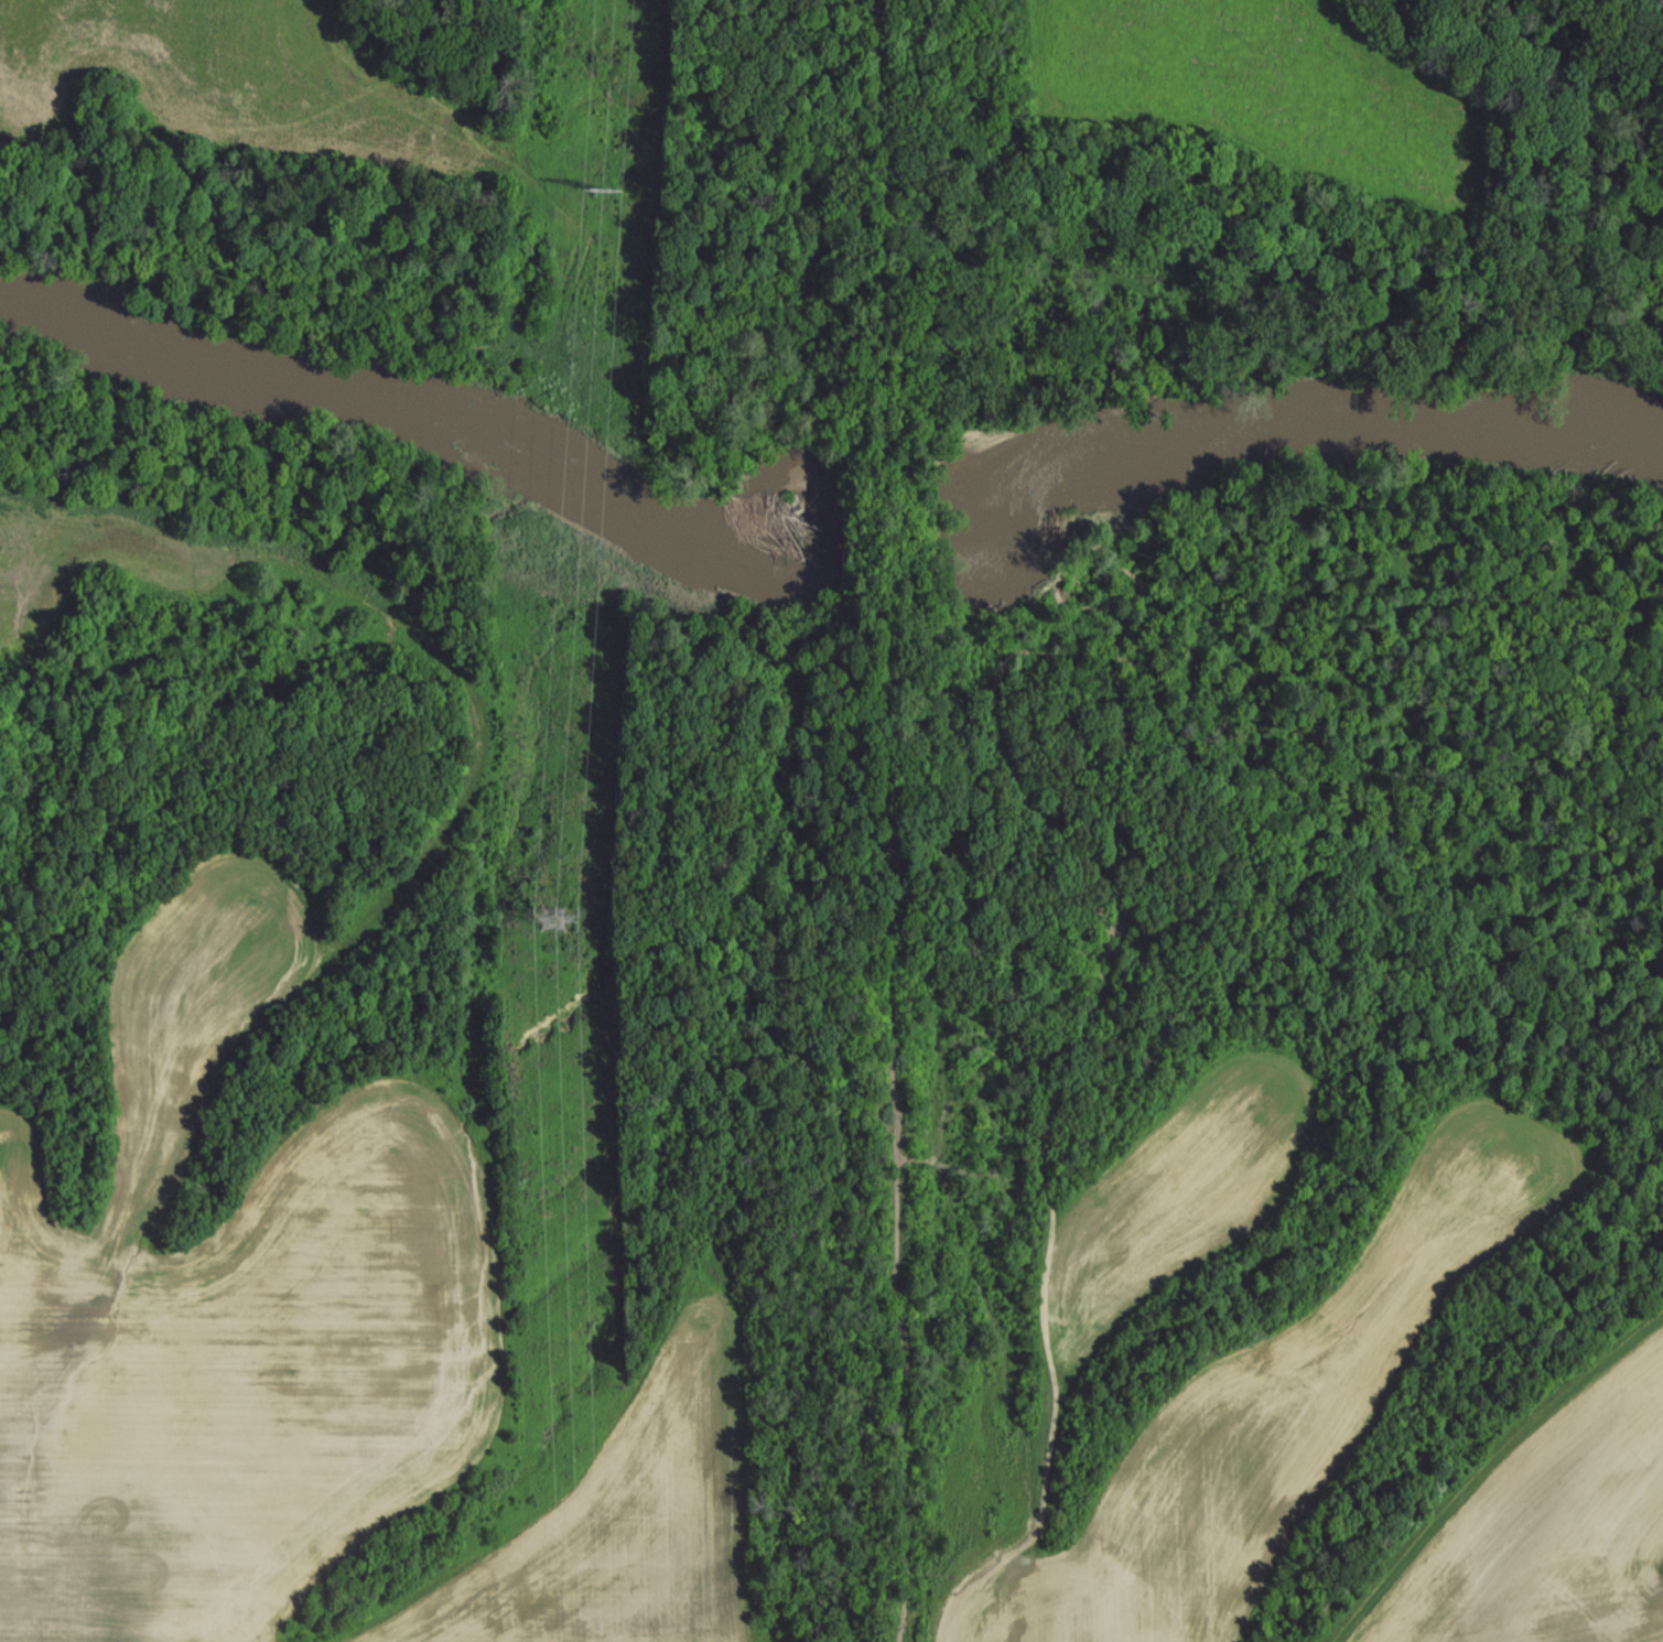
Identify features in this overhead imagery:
power tower: (607, 193)
river: (819, 529)
power tower: (557, 917)

